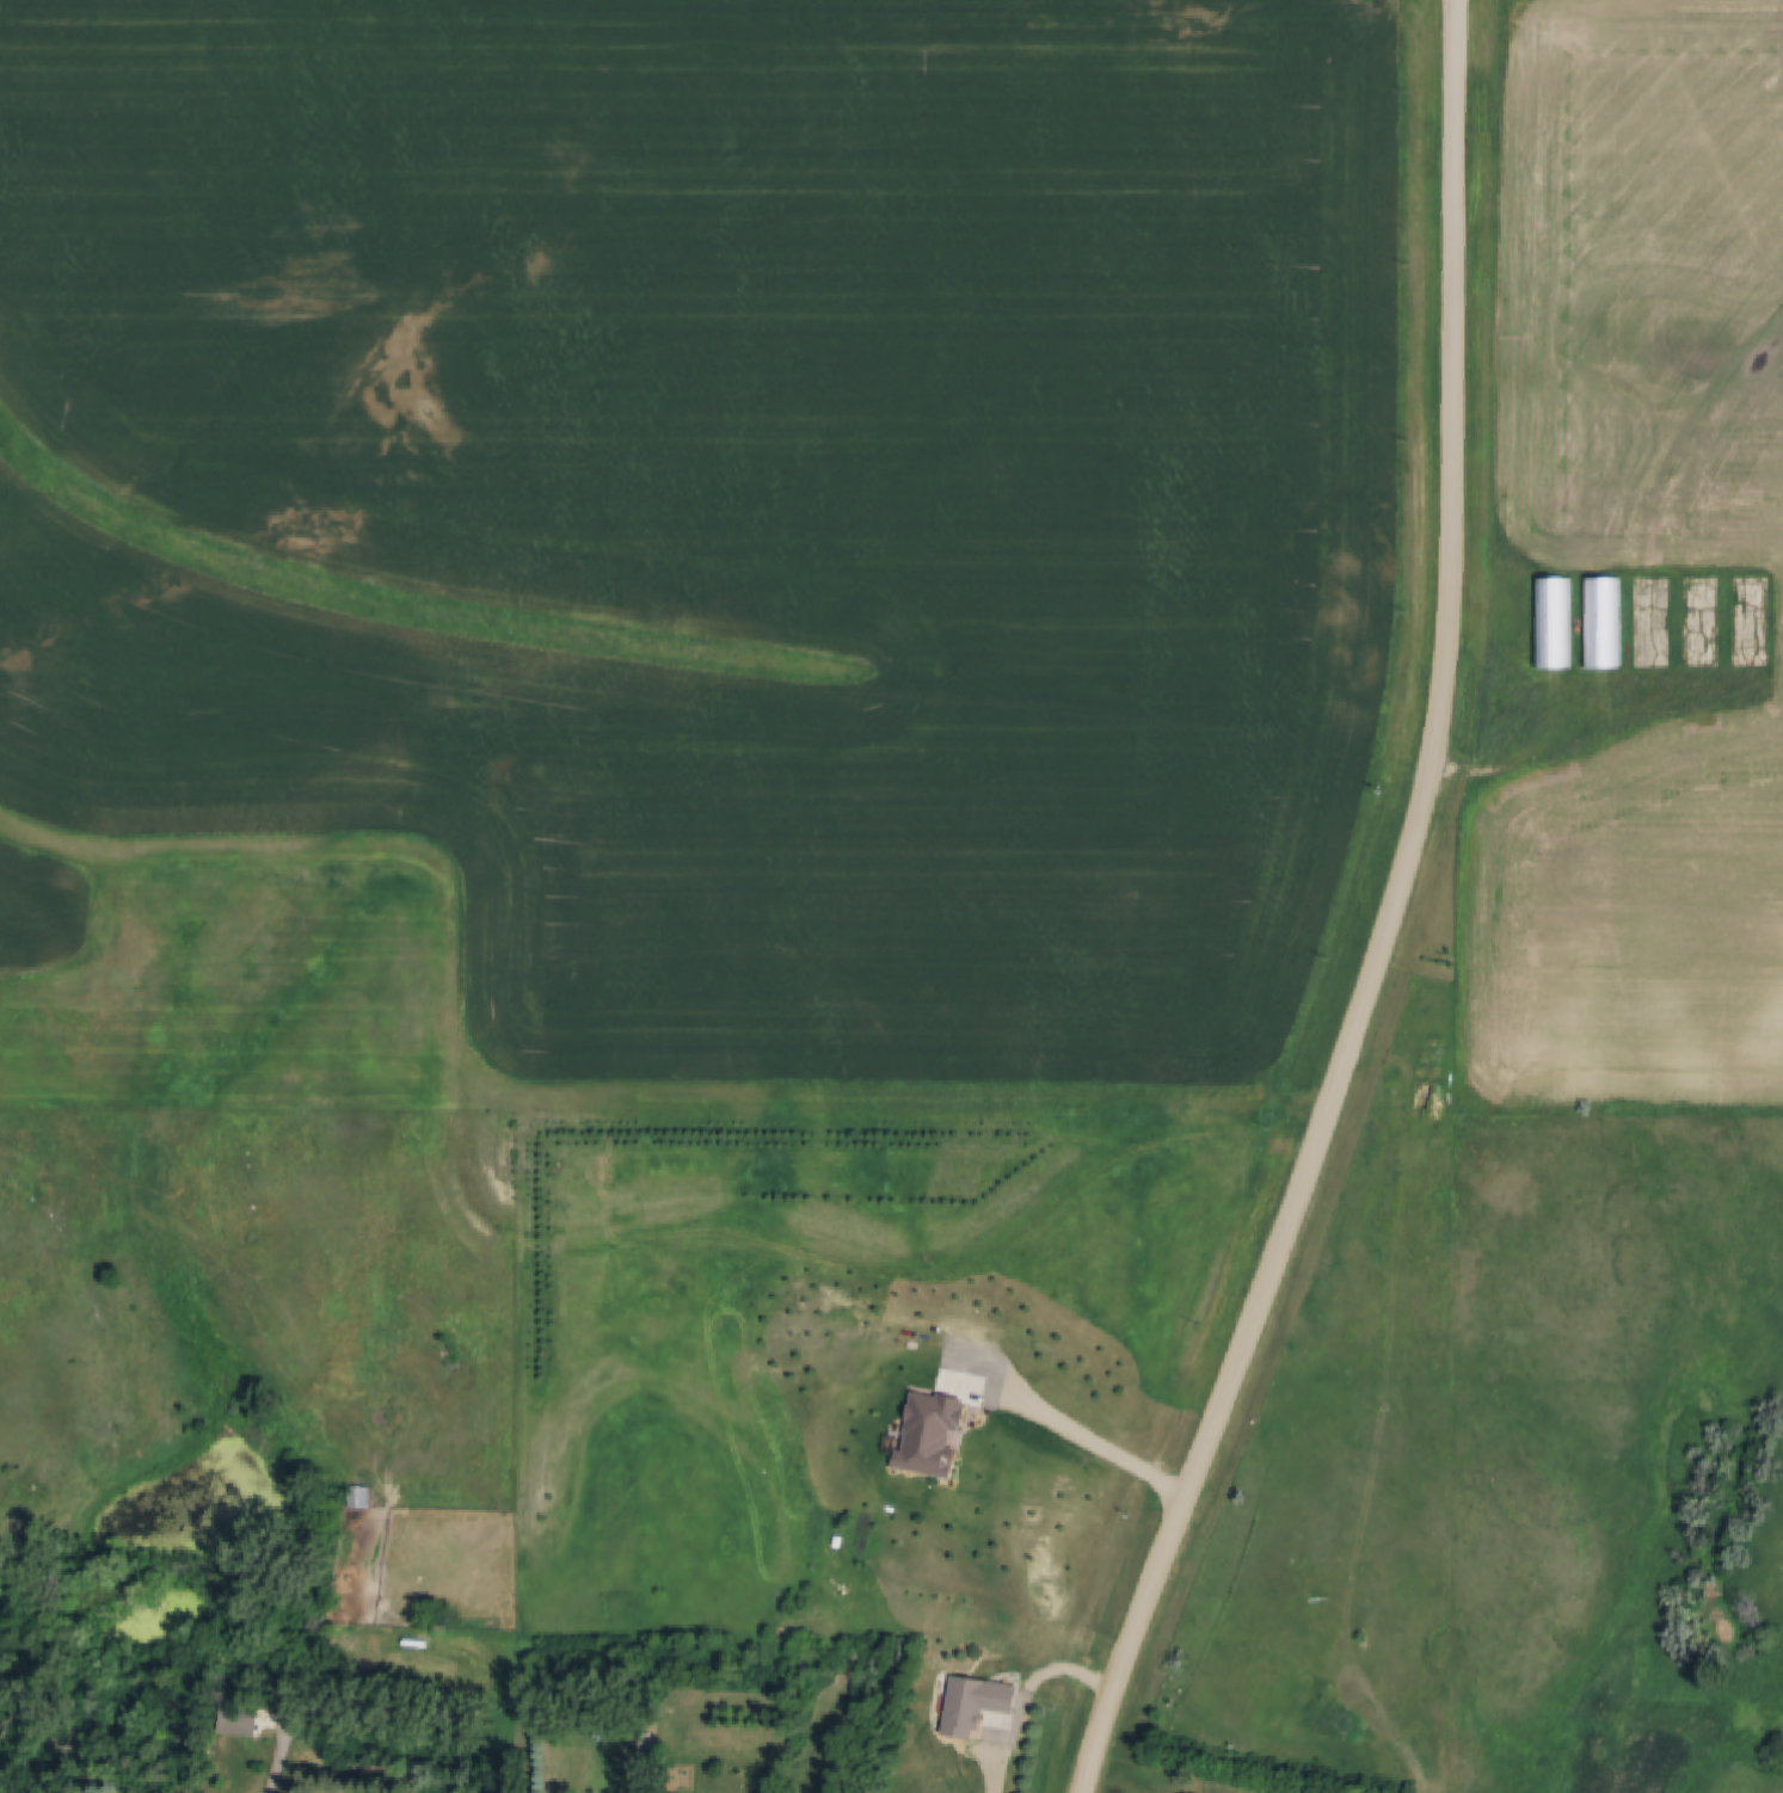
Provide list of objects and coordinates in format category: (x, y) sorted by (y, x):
building: (1556, 622)
building: (1605, 622)
road: (1389, 919)
building: (367, 1496)
road: (1019, 1690)
building: (260, 1705)
building: (961, 1777)

